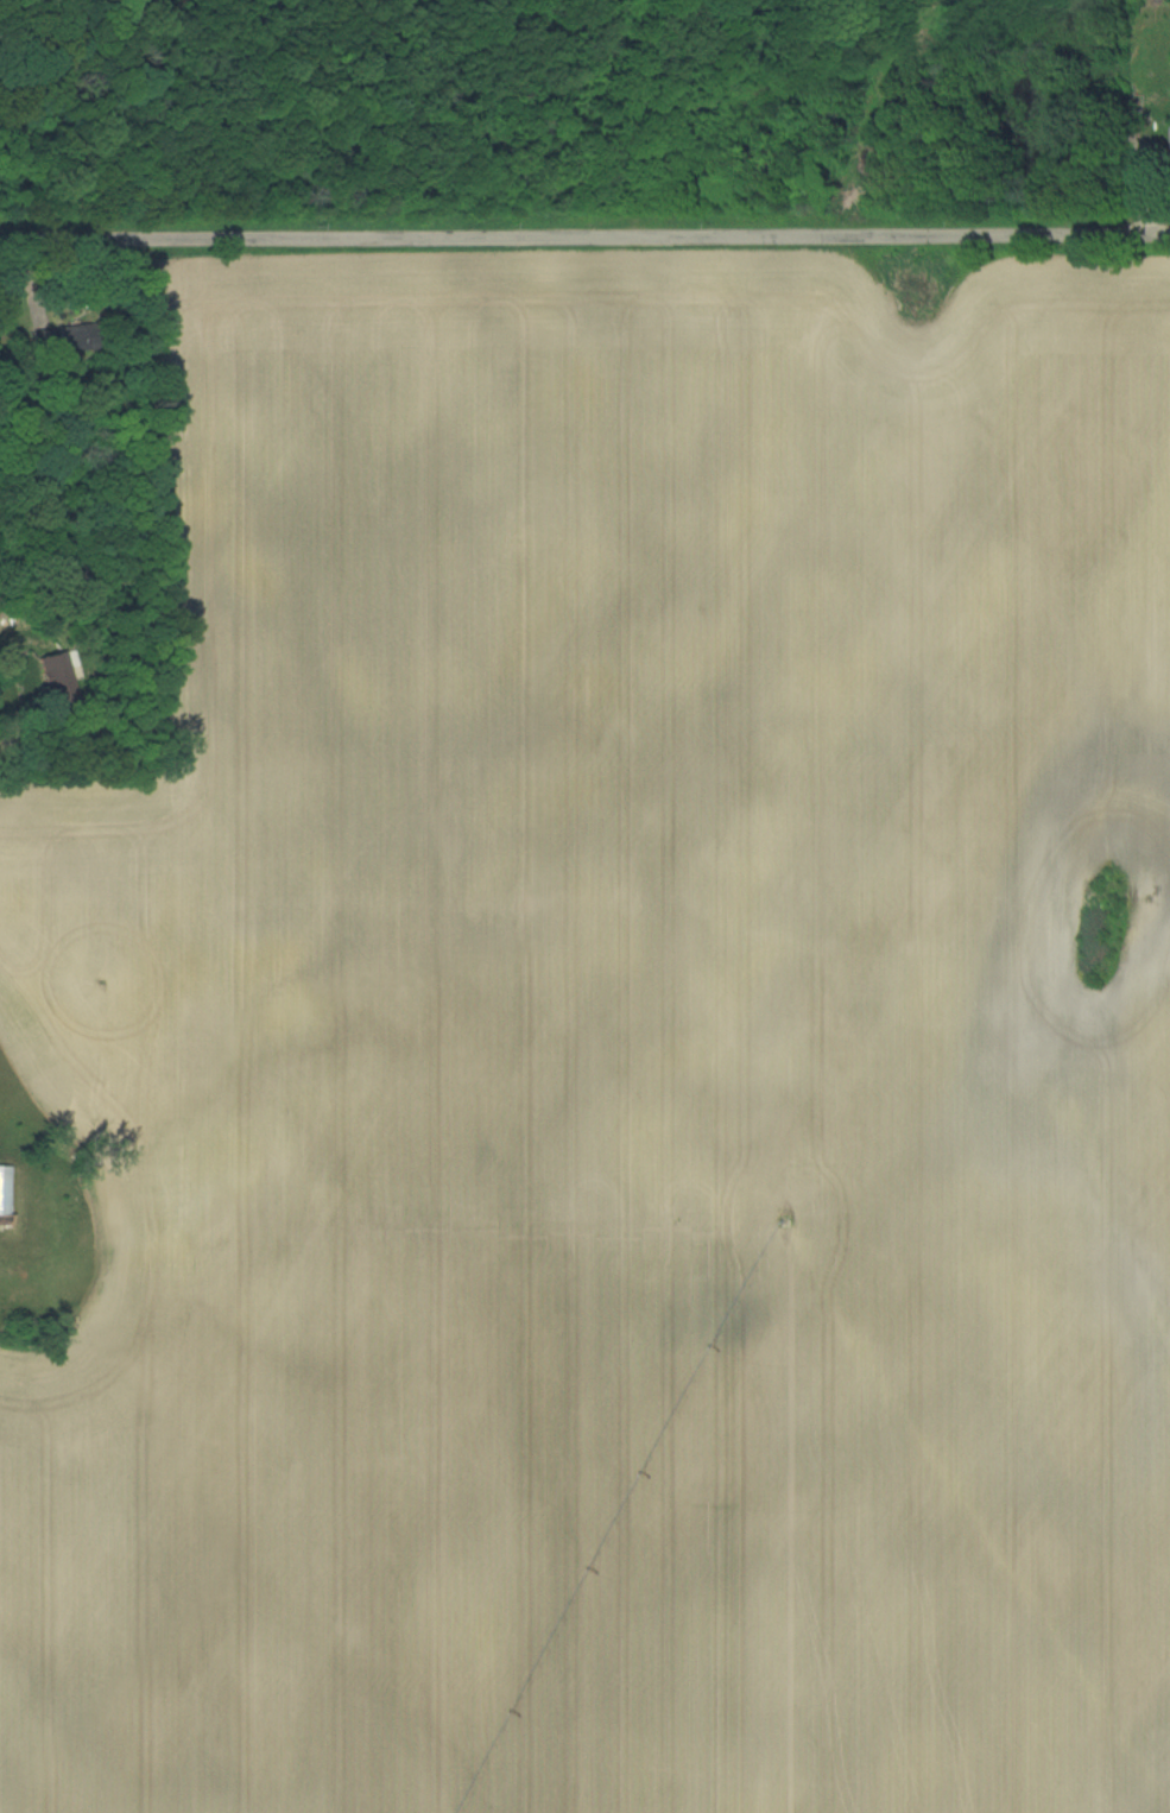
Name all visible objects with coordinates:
road: (584, 239)
building: (61, 339)
building: (55, 674)
road: (18, 724)
building: (6, 1192)

